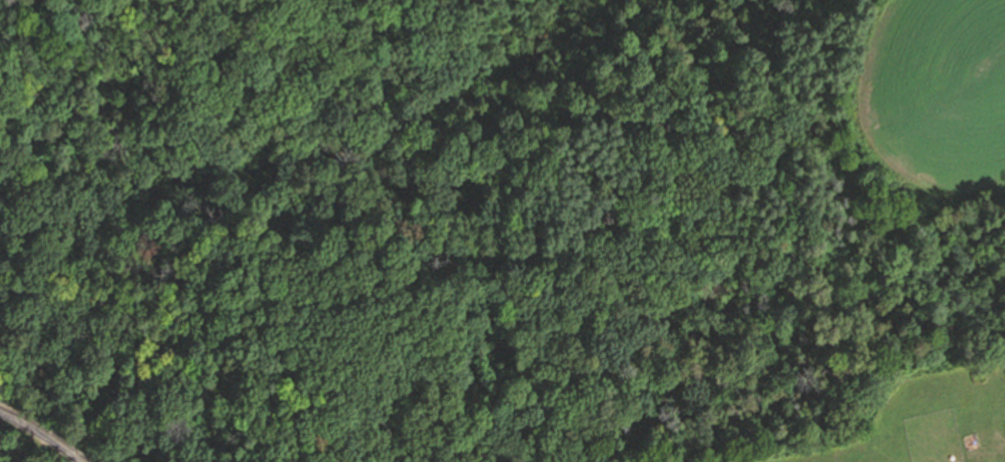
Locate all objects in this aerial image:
road: (43, 432)

